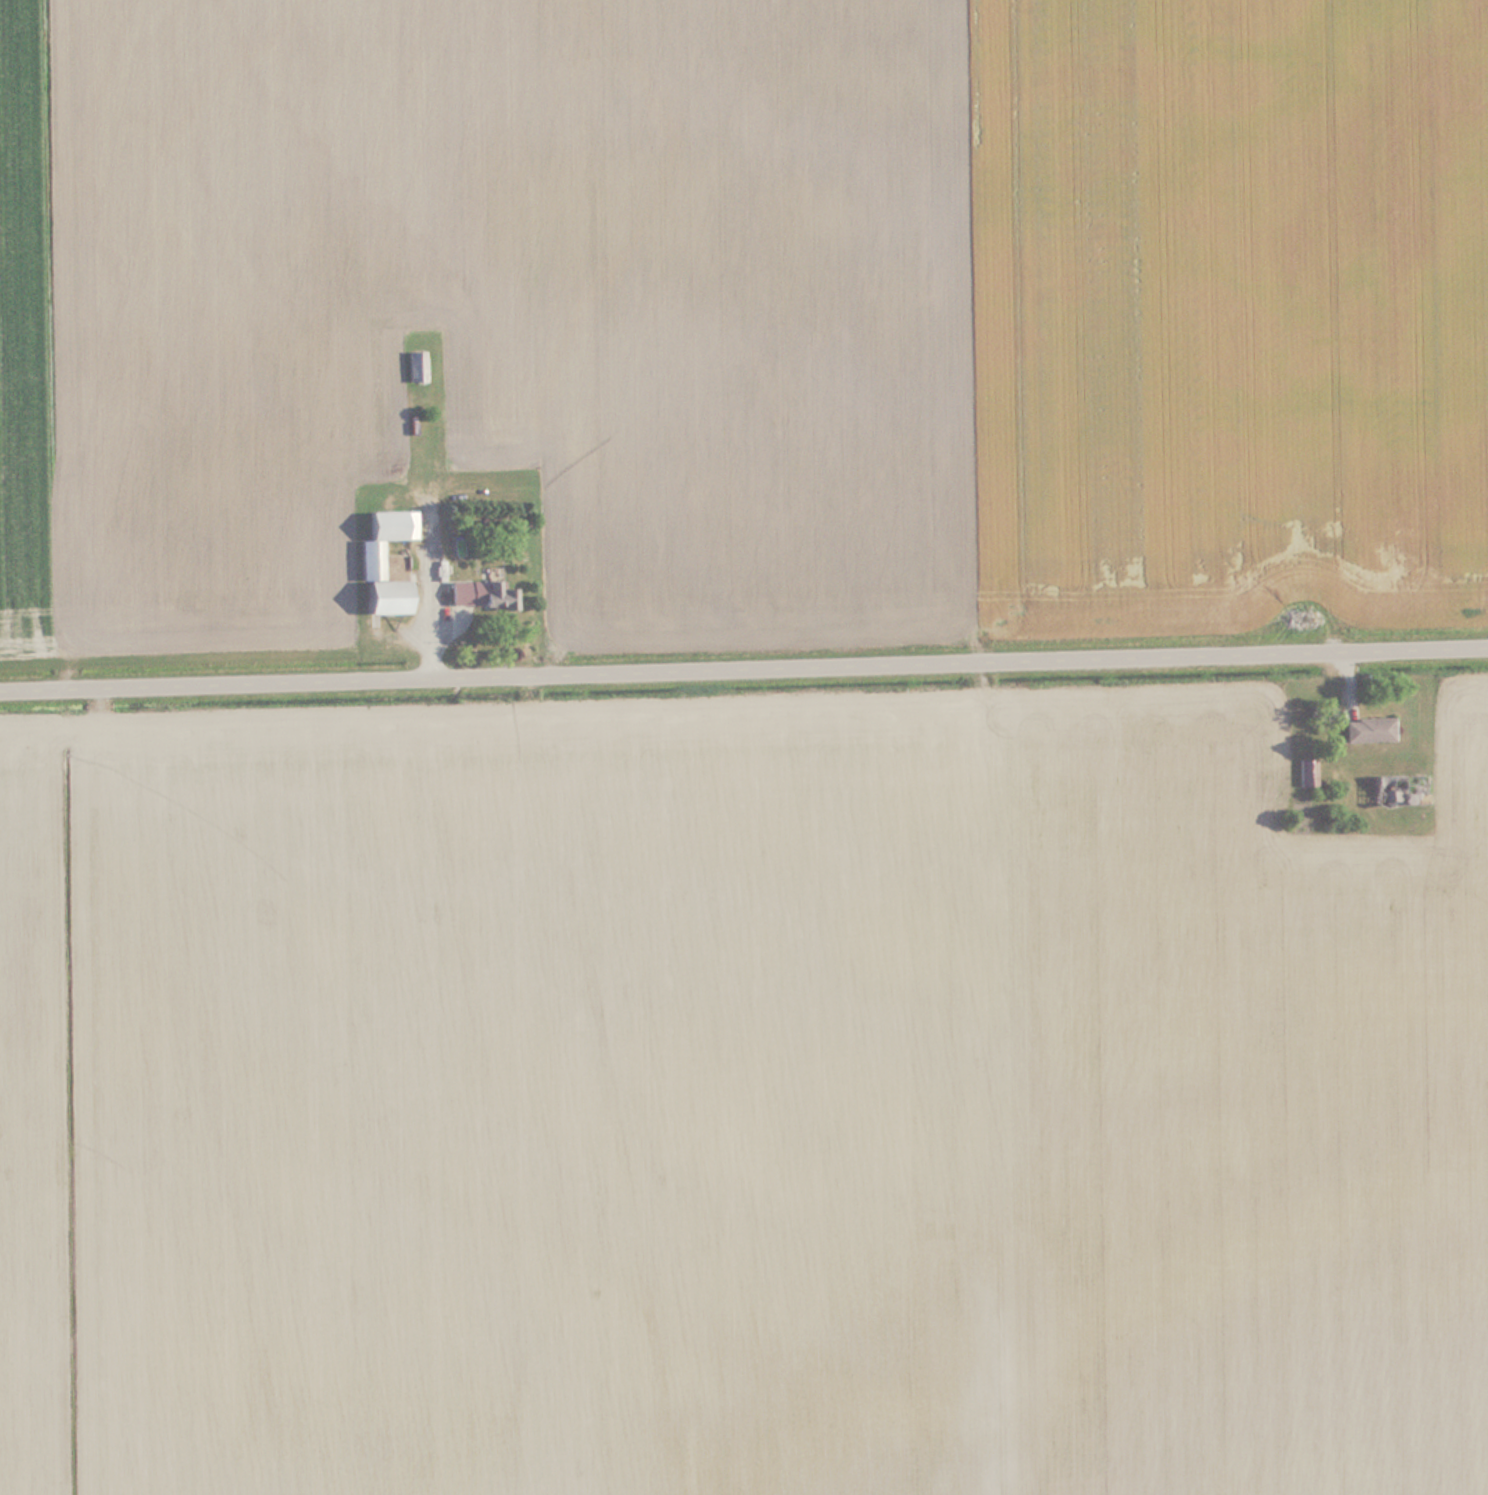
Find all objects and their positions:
building: (415, 366)
building: (369, 559)
building: (480, 592)
road: (744, 671)
building: (1368, 728)
building: (1306, 771)
building: (1398, 788)

